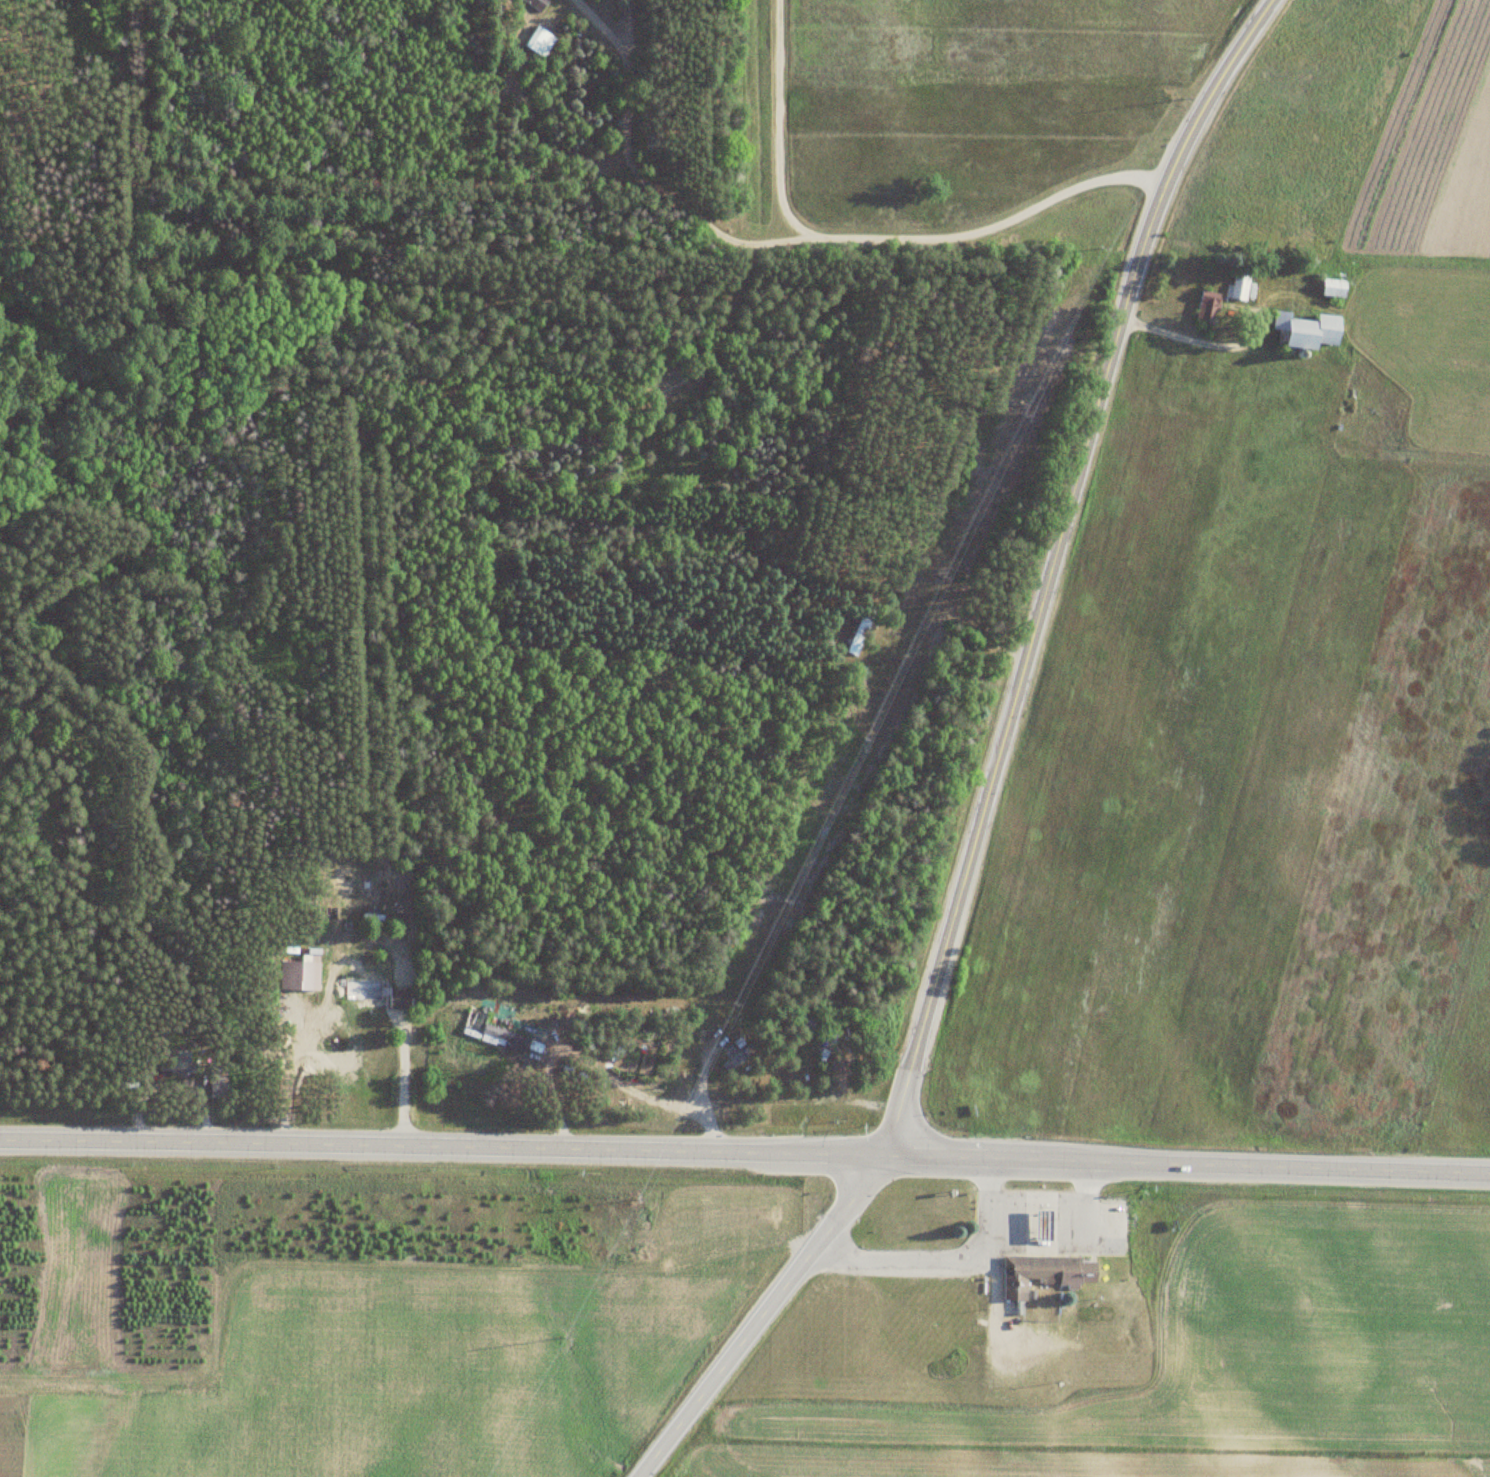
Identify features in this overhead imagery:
building: (535, 3)
road: (602, 28)
building: (533, 38)
road: (641, 179)
road: (864, 244)
building: (1238, 282)
building: (1332, 287)
building: (1206, 305)
building: (1305, 330)
building: (858, 632)
road: (996, 762)
building: (297, 976)
building: (362, 990)
building: (395, 1000)
building: (483, 1032)
building: (738, 1058)
building: (178, 1061)
road: (745, 1153)
building: (1041, 1223)
road: (941, 1256)
building: (1042, 1271)

